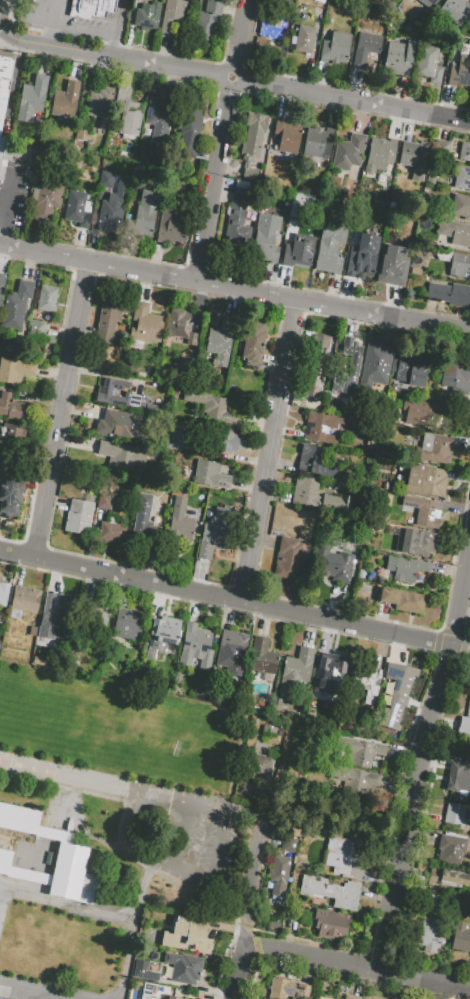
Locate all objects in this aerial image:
building: (321, 0)
road: (1, 2)
building: (430, 4)
building: (92, 8)
road: (14, 9)
building: (453, 12)
road: (52, 13)
building: (173, 14)
building: (147, 16)
parking lot: (55, 19)
building: (205, 19)
road: (4, 22)
building: (469, 22)
building: (271, 27)
road: (118, 30)
road: (46, 36)
building: (303, 38)
road: (19, 41)
building: (334, 47)
building: (365, 48)
road: (69, 51)
building: (398, 58)
building: (428, 64)
building: (461, 67)
building: (5, 82)
road: (282, 87)
building: (31, 98)
building: (64, 100)
building: (100, 103)
building: (127, 113)
building: (158, 116)
building: (189, 129)
building: (286, 134)
building: (316, 140)
road: (223, 141)
building: (252, 143)
building: (1, 146)
building: (442, 149)
building: (464, 151)
building: (348, 152)
building: (380, 152)
building: (412, 153)
building: (30, 161)
building: (139, 166)
building: (1, 173)
building: (462, 178)
building: (105, 179)
building: (432, 181)
building: (242, 184)
building: (47, 194)
parking lot: (13, 203)
building: (73, 206)
building: (298, 206)
building: (461, 206)
building: (236, 207)
road: (3, 212)
building: (145, 214)
road: (5, 217)
building: (110, 217)
building: (84, 220)
building: (170, 226)
building: (455, 231)
building: (236, 235)
building: (264, 245)
building: (330, 247)
building: (298, 251)
building: (362, 262)
building: (459, 264)
building: (391, 268)
building: (414, 270)
building: (1, 283)
road: (235, 289)
building: (449, 293)
building: (46, 295)
building: (16, 305)
building: (109, 320)
building: (145, 324)
building: (182, 324)
building: (35, 329)
building: (50, 340)
building: (219, 341)
building: (252, 343)
building: (375, 364)
building: (315, 365)
building: (345, 366)
building: (411, 367)
building: (15, 370)
building: (454, 373)
building: (103, 394)
building: (11, 407)
building: (211, 407)
road: (58, 410)
building: (423, 412)
building: (123, 423)
building: (320, 428)
building: (12, 436)
building: (172, 439)
building: (216, 439)
building: (182, 443)
building: (435, 448)
road: (270, 451)
building: (120, 455)
building: (315, 462)
building: (210, 474)
building: (426, 481)
building: (305, 487)
building: (10, 496)
building: (104, 502)
building: (422, 510)
building: (79, 515)
building: (144, 518)
building: (180, 523)
building: (110, 532)
building: (213, 533)
building: (416, 542)
building: (287, 558)
building: (305, 558)
building: (335, 567)
building: (405, 568)
building: (439, 571)
building: (361, 573)
building: (3, 593)
road: (235, 599)
building: (23, 600)
building: (402, 600)
building: (55, 614)
building: (97, 618)
building: (127, 623)
building: (32, 631)
building: (161, 634)
building: (232, 643)
building: (196, 646)
building: (262, 656)
building: (298, 665)
building: (328, 669)
building: (368, 684)
building: (385, 692)
building: (395, 692)
building: (467, 721)
building: (268, 730)
building: (262, 745)
building: (361, 751)
road: (416, 761)
building: (259, 767)
road: (63, 775)
building: (355, 780)
building: (458, 780)
road: (193, 803)
building: (357, 812)
building: (456, 815)
building: (30, 823)
parking lot: (182, 835)
road: (191, 839)
building: (289, 845)
road: (223, 847)
building: (451, 848)
building: (339, 855)
road: (168, 866)
building: (20, 869)
building: (72, 874)
building: (447, 877)
building: (280, 878)
road: (252, 881)
building: (340, 894)
building: (433, 909)
building: (272, 924)
building: (331, 925)
road: (133, 929)
building: (431, 933)
building: (190, 934)
building: (460, 937)
road: (355, 967)
building: (184, 968)
road: (235, 972)
building: (139, 975)
building: (151, 975)
building: (148, 989)
building: (287, 989)
road: (48, 991)
road: (441, 991)
building: (173, 997)
building: (351, 997)
building: (370, 997)
building: (392, 998)

